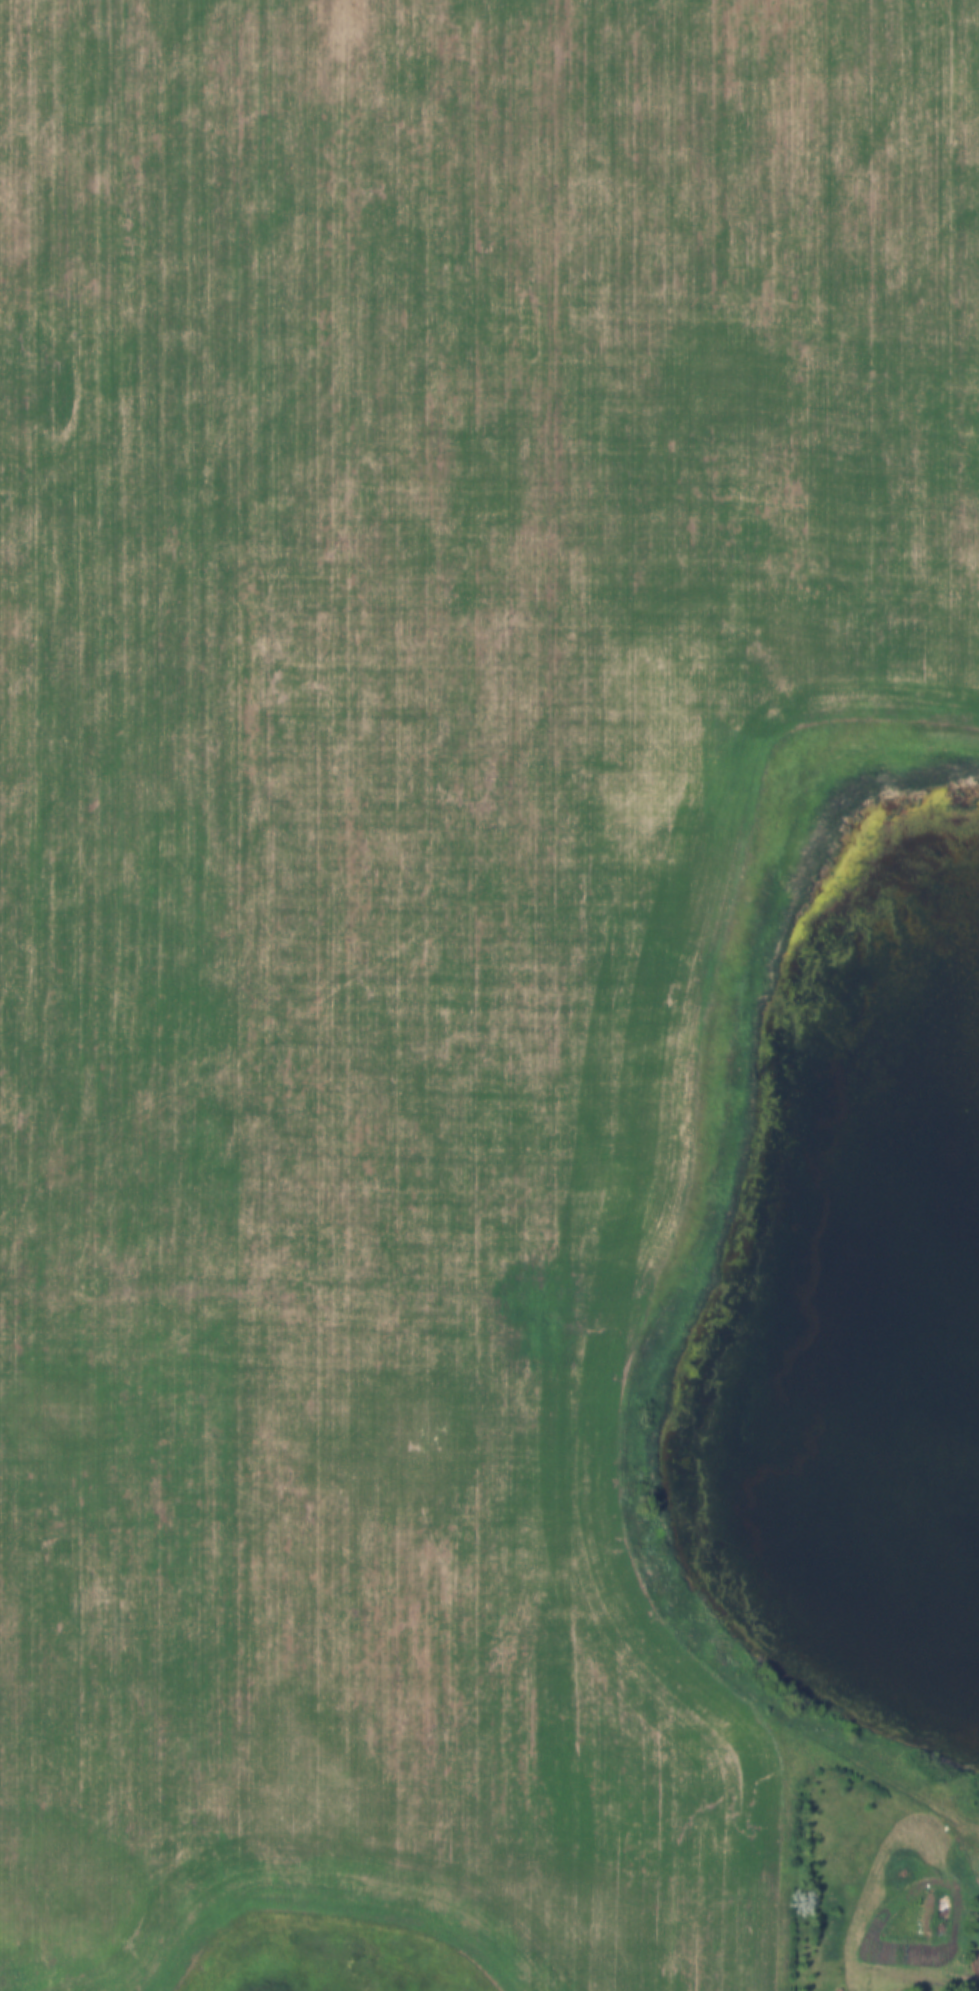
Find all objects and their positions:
road: (925, 1982)

